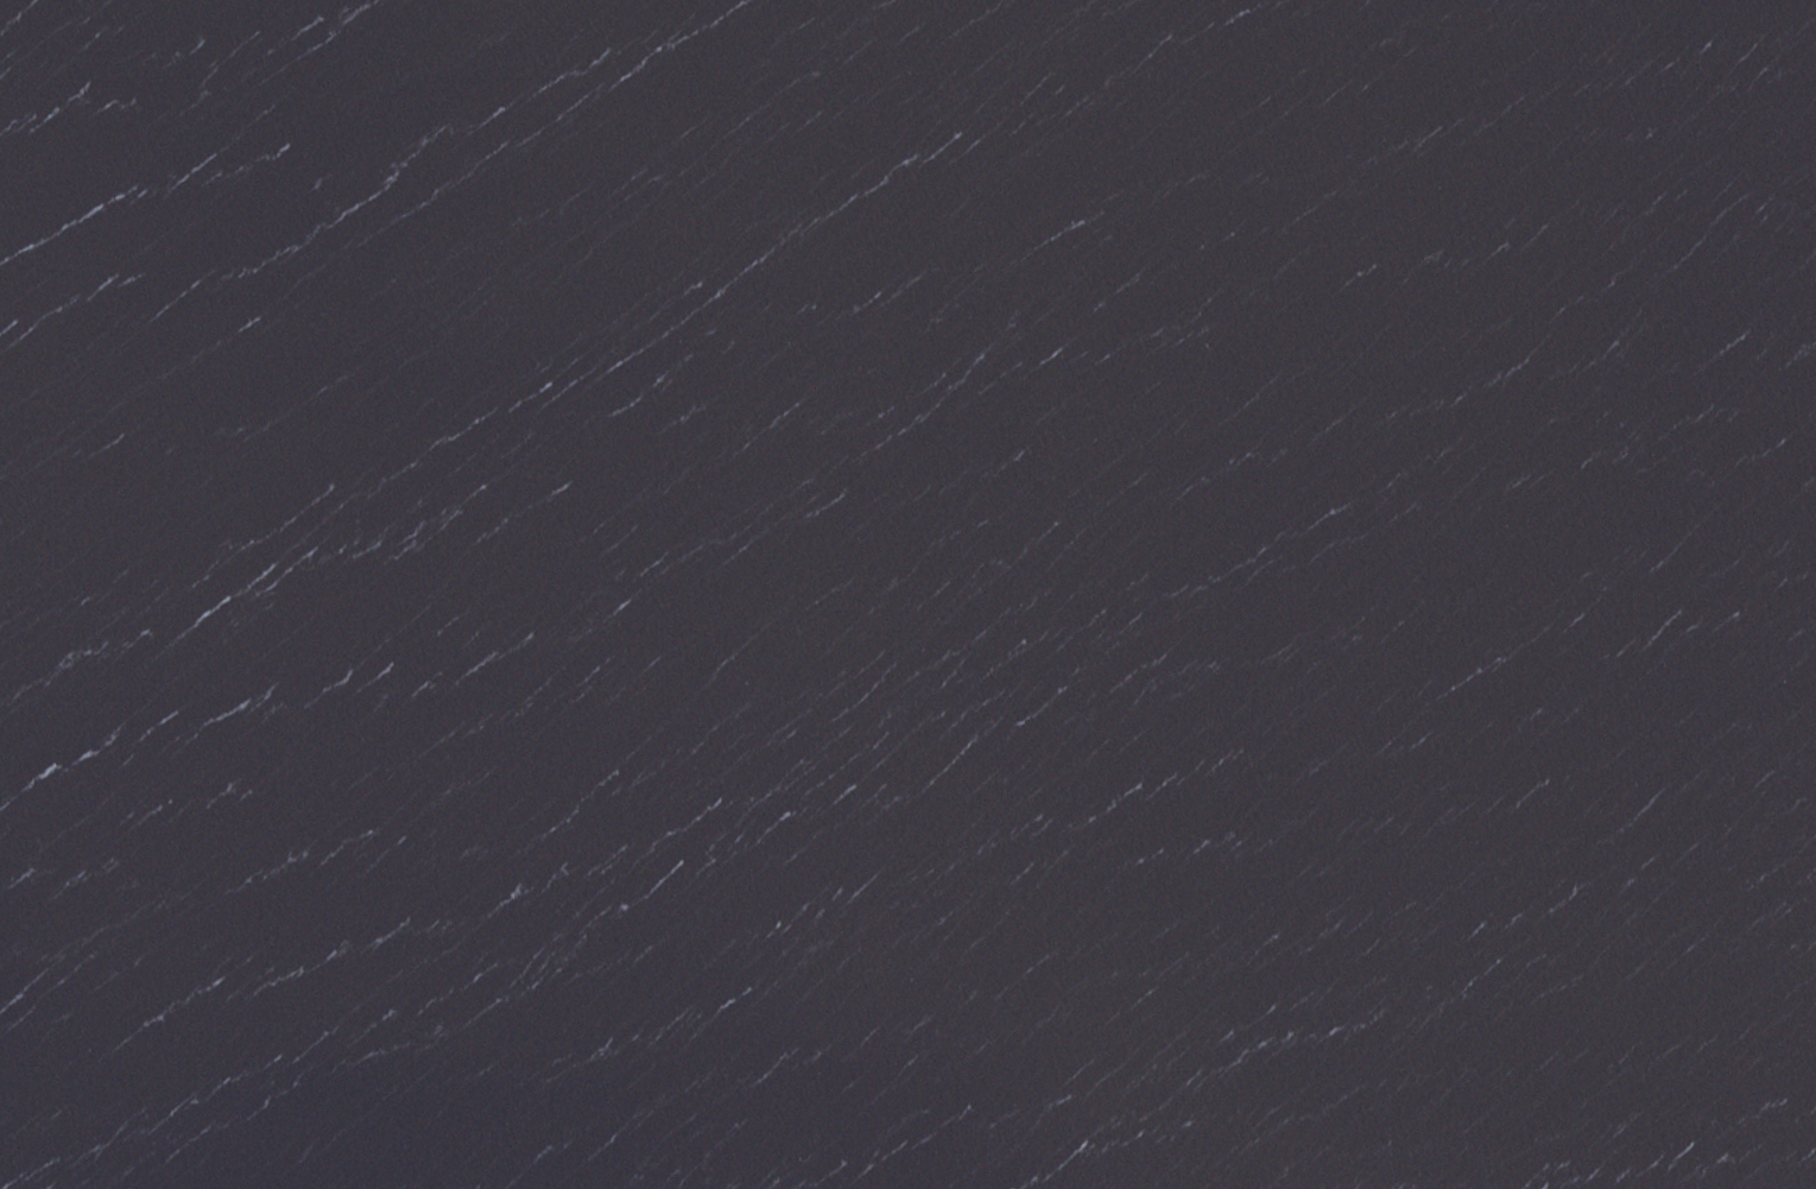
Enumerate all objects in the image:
river: (1398, 595)

